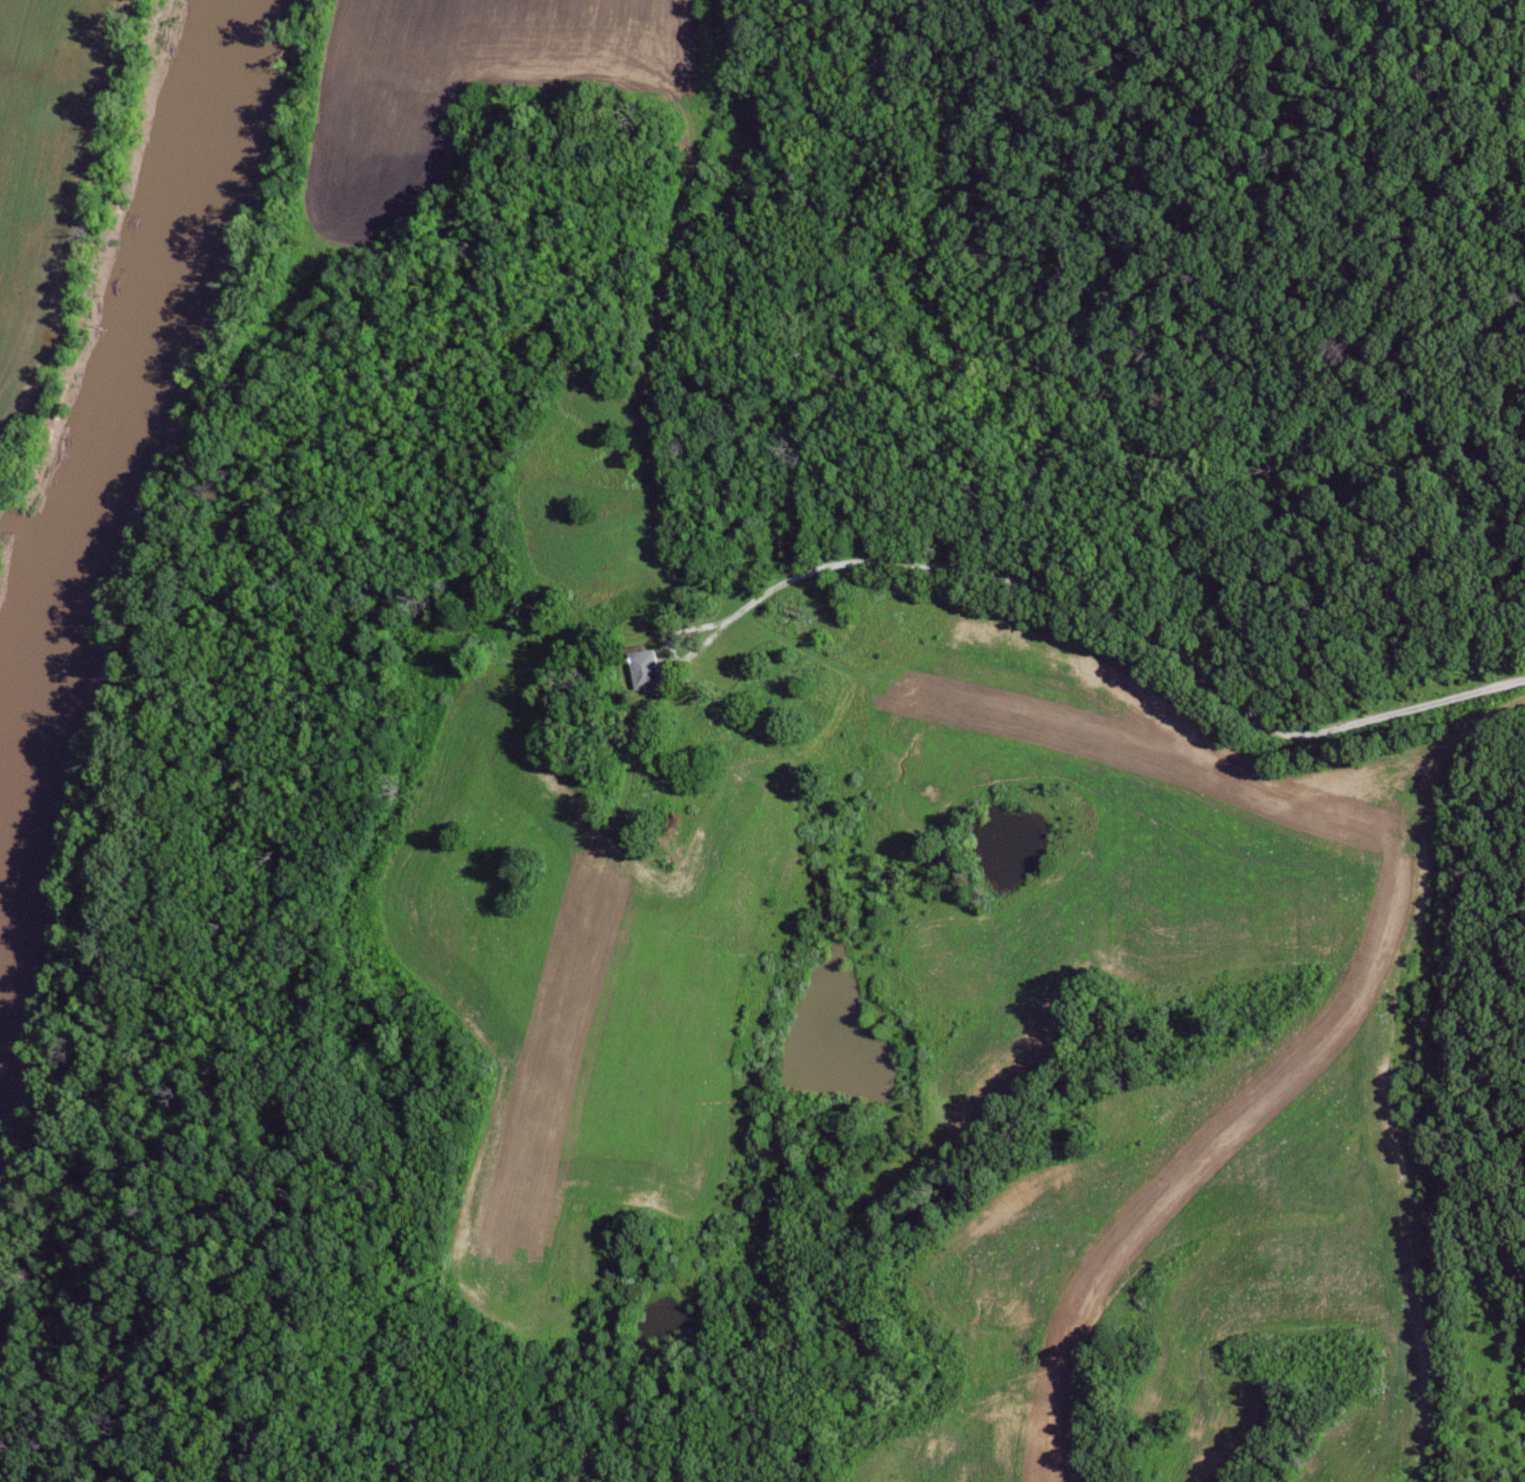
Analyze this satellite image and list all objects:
river: (125, 492)
road: (1190, 666)
building: (645, 672)

